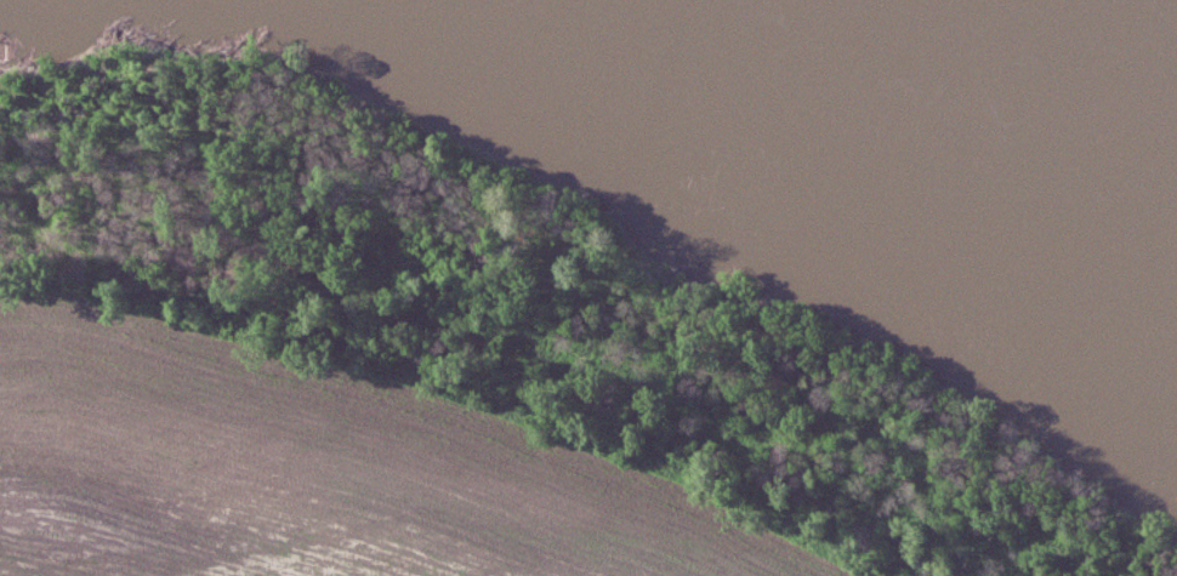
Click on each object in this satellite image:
river: (1094, 35)

